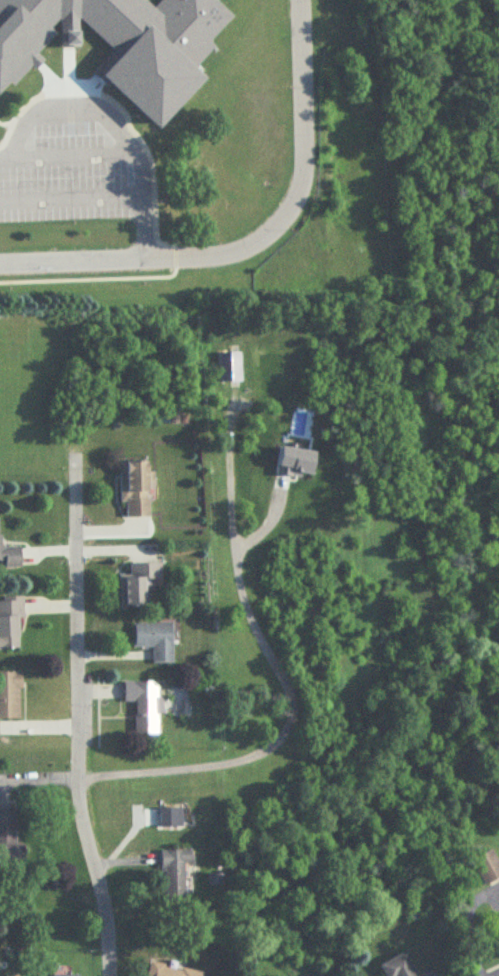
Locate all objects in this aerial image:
building: (121, 43)
road: (66, 111)
road: (300, 149)
road: (118, 156)
road: (70, 200)
road: (106, 260)
building: (229, 368)
building: (134, 488)
building: (11, 558)
building: (138, 587)
building: (10, 622)
building: (154, 641)
road: (283, 679)
building: (9, 696)
building: (143, 706)
road: (76, 721)
building: (9, 836)
building: (487, 868)
building: (174, 875)
building: (399, 967)
building: (168, 971)

